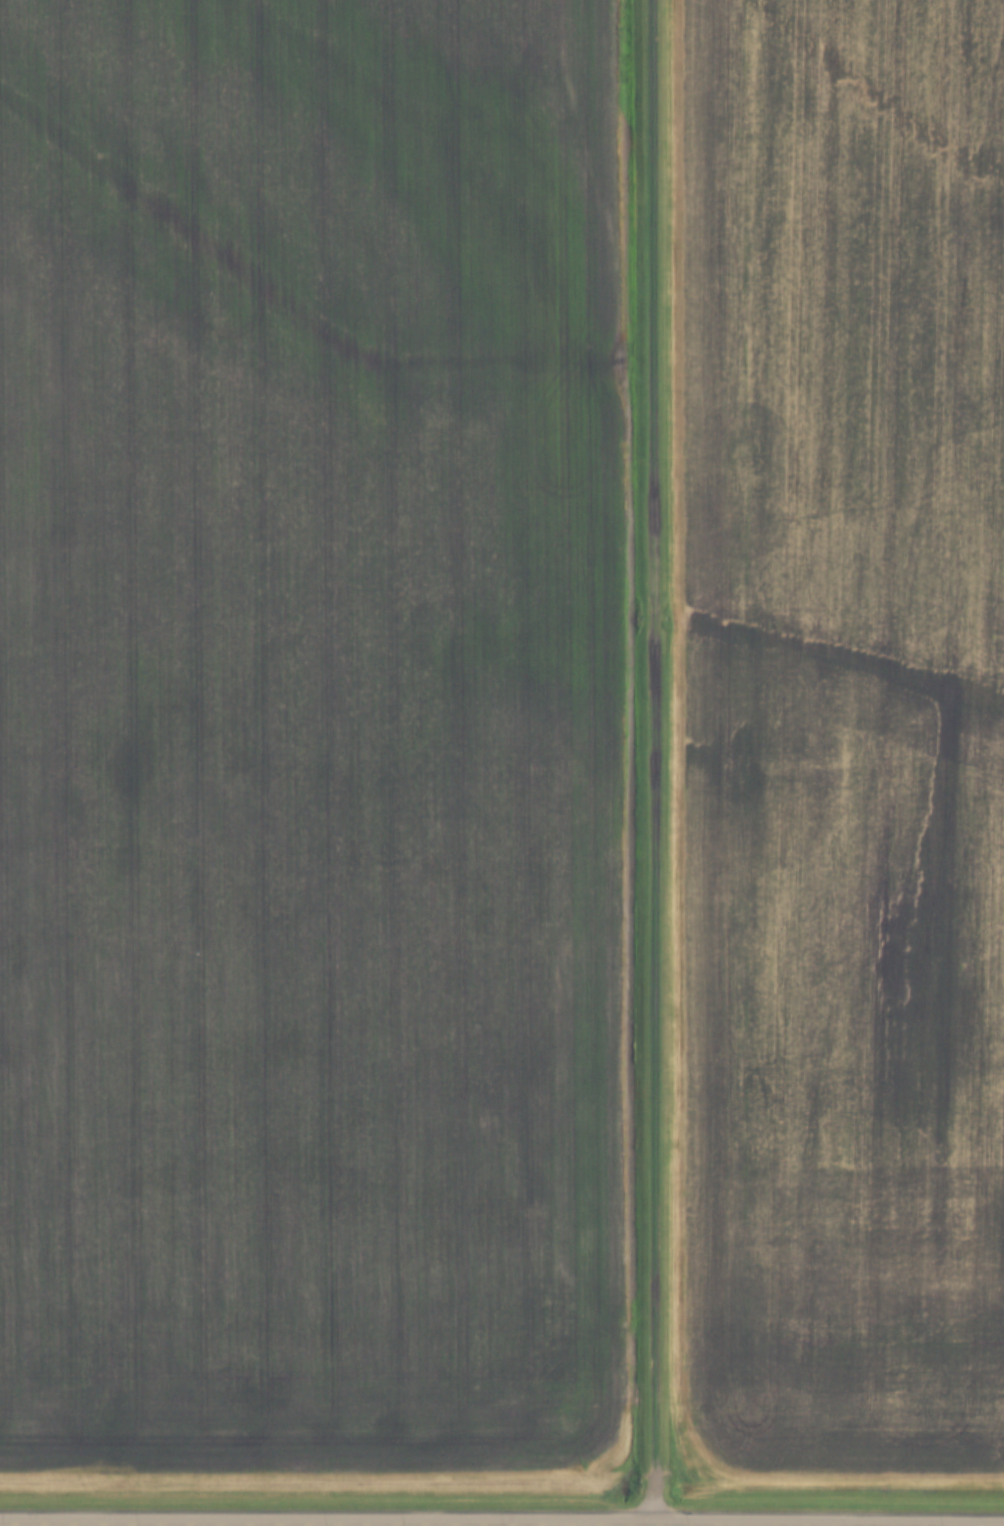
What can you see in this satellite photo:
road: (652, 762)
road: (480, 1523)
road: (650, 1525)

